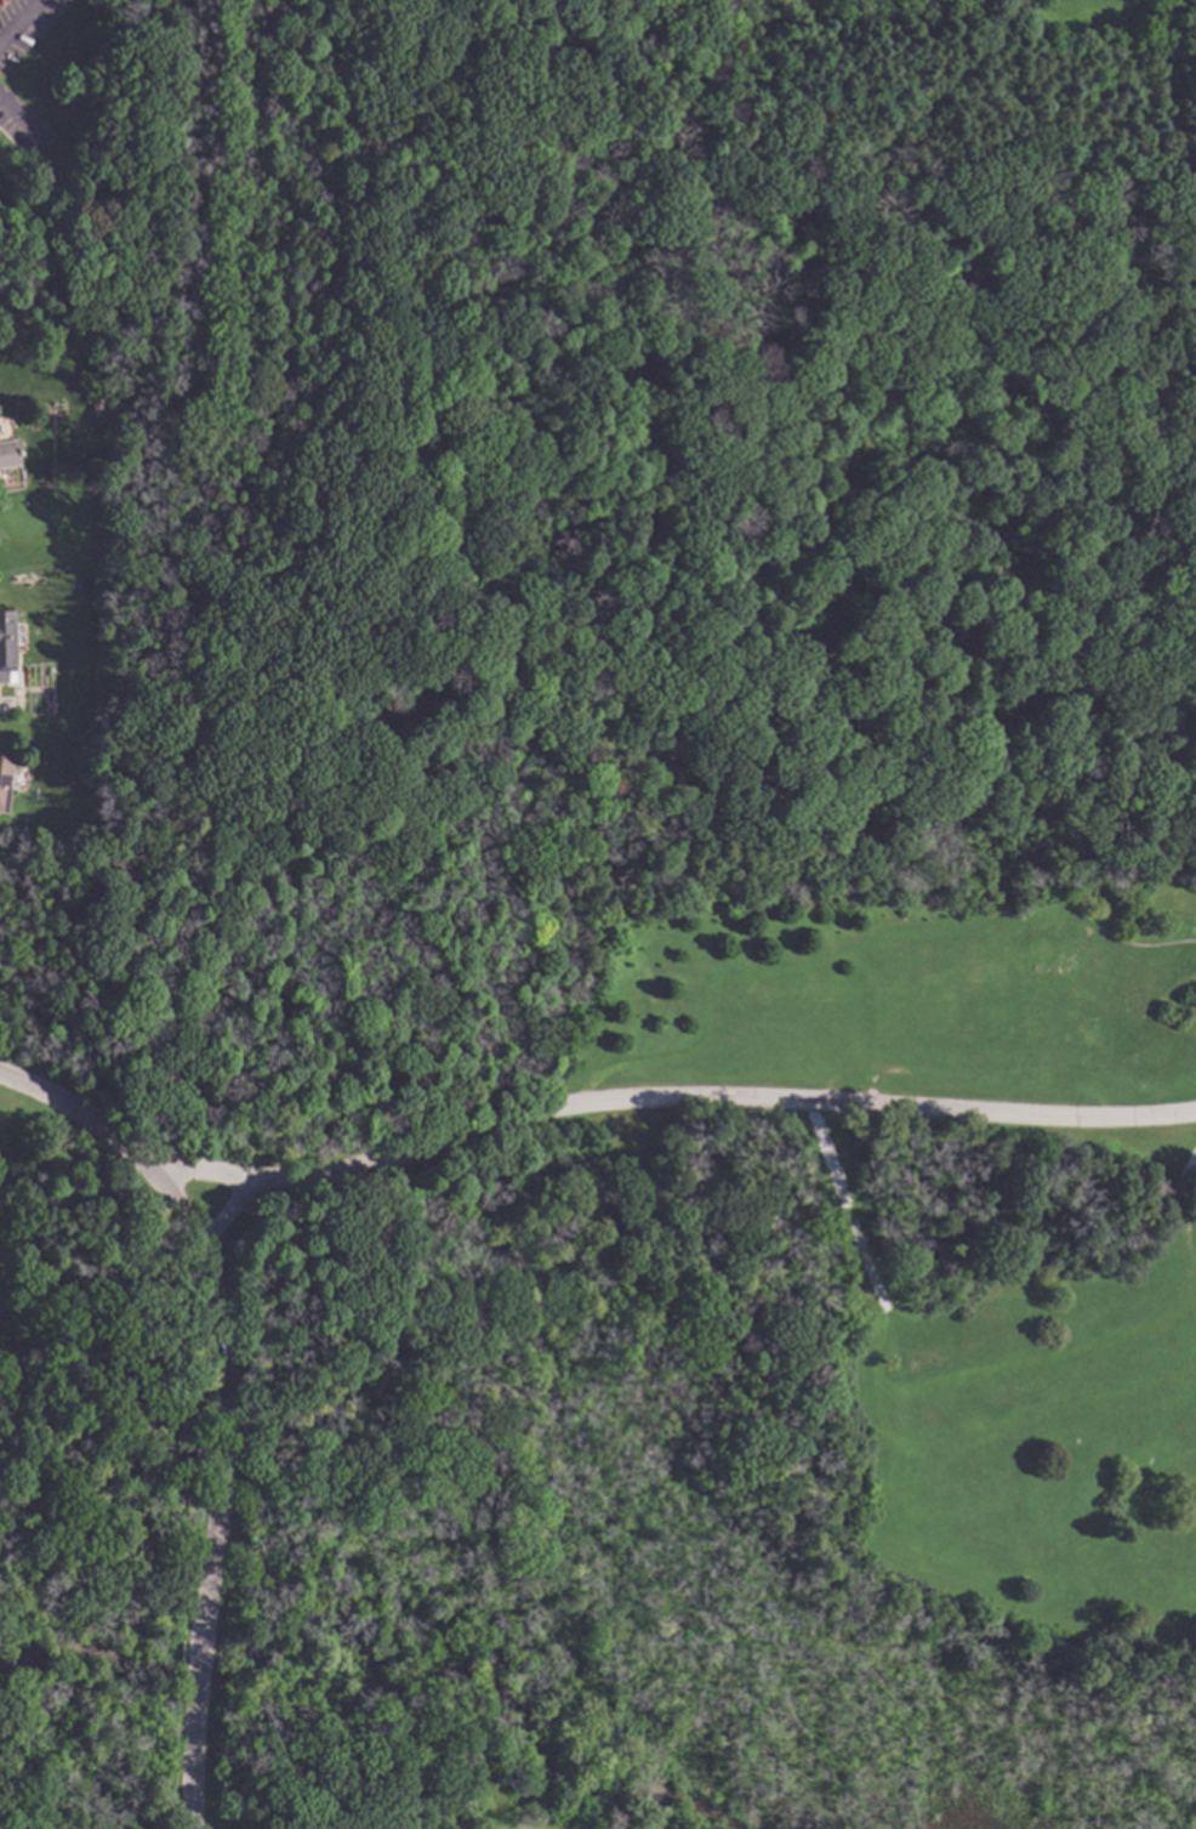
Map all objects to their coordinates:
road: (21, 22)
road: (12, 126)
road: (898, 225)
road: (742, 376)
building: (8, 455)
road: (381, 576)
building: (7, 647)
road: (900, 762)
building: (5, 780)
road: (1075, 902)
road: (637, 1009)
road: (665, 1096)
parking lot: (1120, 1104)
road: (78, 1109)
road: (1175, 1199)
road: (845, 1205)
road: (228, 1211)
park: (598, 1341)
road: (227, 1387)
road: (200, 1649)
road: (193, 1748)

